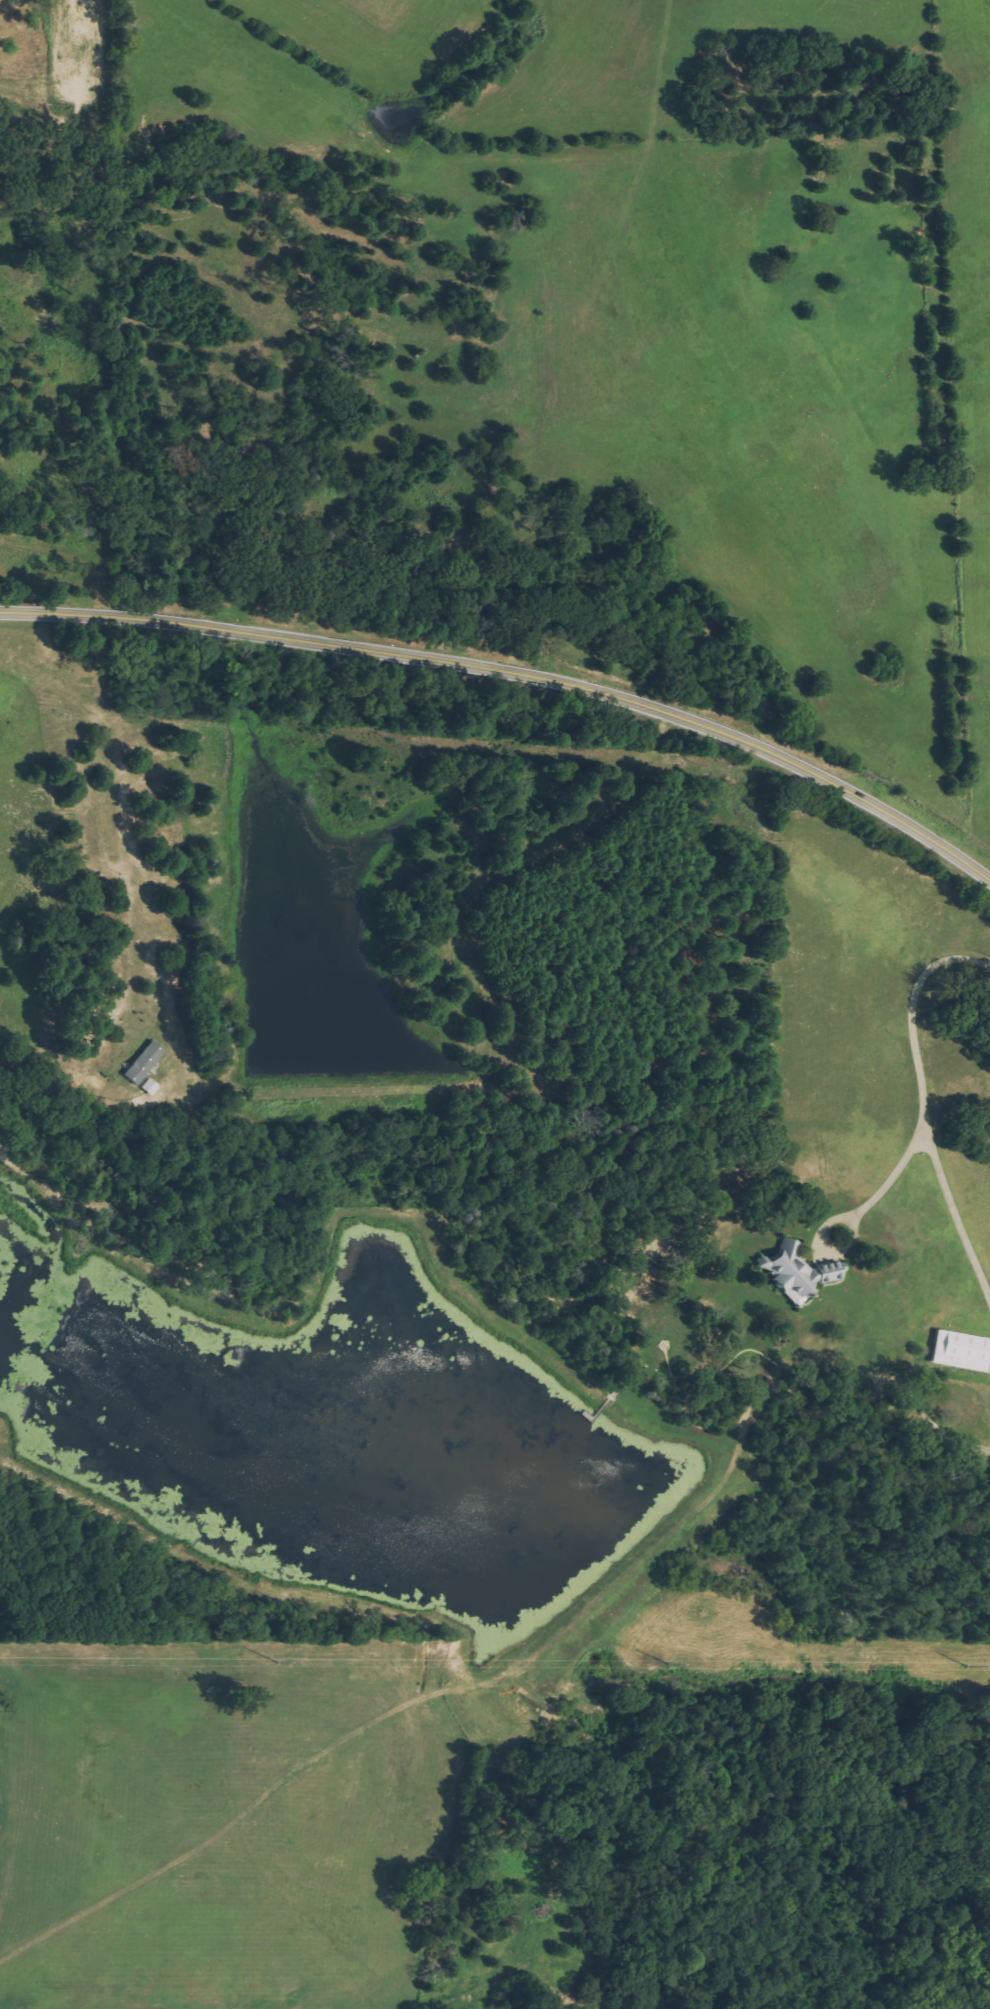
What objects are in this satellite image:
road: (517, 660)
building: (141, 1063)
building: (147, 1087)
building: (796, 1272)
building: (958, 1351)
power tower: (278, 1662)
power tower: (671, 1665)
power tower: (968, 1666)

